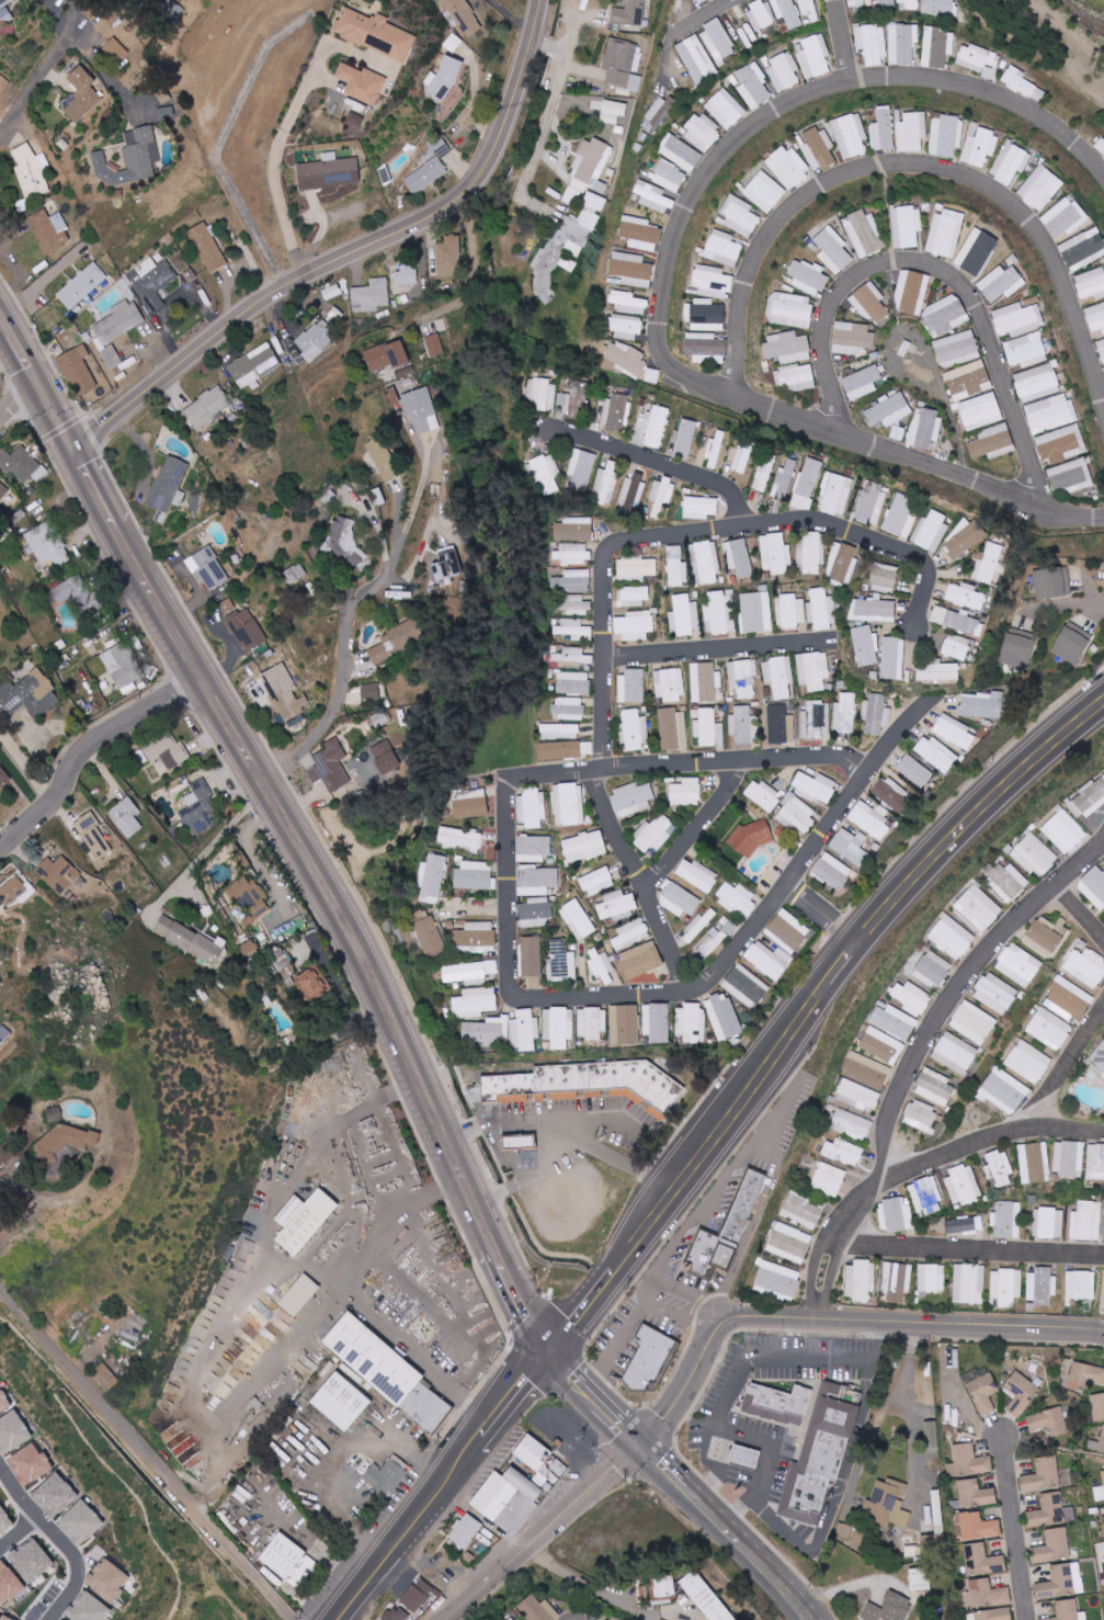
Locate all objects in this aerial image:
building: (704, 1)
building: (3, 2)
road: (76, 2)
building: (887, 2)
building: (856, 3)
building: (909, 4)
building: (938, 7)
building: (809, 9)
road: (511, 12)
road: (530, 12)
building: (787, 12)
building: (629, 13)
building: (760, 14)
road: (715, 16)
building: (375, 33)
building: (719, 42)
building: (872, 42)
building: (902, 42)
road: (845, 43)
building: (937, 46)
building: (115, 49)
building: (813, 55)
road: (95, 57)
building: (972, 57)
building: (697, 59)
road: (39, 67)
building: (783, 70)
building: (443, 79)
building: (362, 82)
building: (1022, 83)
building: (753, 84)
building: (82, 94)
road: (801, 103)
building: (726, 107)
building: (613, 111)
building: (658, 113)
road: (547, 120)
building: (884, 128)
building: (911, 131)
building: (702, 132)
building: (851, 135)
building: (946, 135)
road: (214, 145)
building: (980, 147)
building: (818, 148)
building: (681, 152)
building: (129, 158)
building: (1011, 162)
road: (917, 163)
building: (591, 165)
road: (275, 167)
building: (430, 167)
building: (788, 167)
building: (30, 171)
building: (329, 172)
building: (669, 174)
building: (1040, 188)
building: (765, 191)
building: (653, 196)
building: (740, 215)
building: (1063, 217)
building: (907, 226)
building: (52, 231)
building: (641, 233)
building: (864, 233)
building: (946, 233)
building: (208, 247)
building: (561, 248)
building: (573, 248)
building: (722, 248)
building: (1083, 248)
building: (833, 250)
building: (978, 252)
building: (449, 256)
road: (344, 262)
building: (631, 269)
road: (943, 272)
building: (407, 274)
road: (237, 275)
road: (475, 276)
building: (808, 276)
building: (152, 282)
building: (1001, 283)
building: (1091, 283)
road: (39, 285)
building: (82, 285)
building: (911, 292)
building: (371, 295)
building: (629, 303)
building: (870, 303)
building: (790, 309)
building: (707, 315)
building: (945, 315)
road: (212, 316)
building: (1095, 316)
building: (1017, 318)
building: (119, 321)
building: (626, 328)
building: (853, 338)
building: (316, 339)
road: (159, 340)
building: (434, 344)
building: (788, 347)
building: (1102, 347)
building: (706, 348)
building: (957, 349)
building: (1026, 350)
building: (386, 355)
building: (113, 359)
building: (625, 359)
building: (254, 365)
building: (78, 370)
building: (796, 377)
building: (968, 379)
building: (862, 382)
building: (542, 394)
road: (18, 399)
building: (562, 399)
building: (578, 401)
building: (206, 408)
building: (421, 410)
building: (889, 410)
building: (980, 411)
building: (617, 414)
building: (1051, 414)
building: (657, 427)
building: (924, 428)
building: (685, 439)
building: (993, 442)
building: (1061, 443)
building: (715, 451)
road: (891, 451)
road: (146, 452)
building: (743, 457)
building: (382, 458)
building: (22, 465)
road: (662, 465)
building: (581, 469)
building: (765, 472)
building: (545, 474)
building: (1071, 477)
building: (785, 479)
building: (807, 483)
building: (606, 484)
building: (168, 488)
building: (3, 490)
building: (631, 491)
building: (662, 494)
building: (836, 494)
building: (872, 505)
building: (699, 507)
building: (899, 513)
building: (574, 529)
building: (932, 530)
building: (340, 534)
road: (688, 535)
road: (873, 540)
building: (964, 540)
building: (48, 544)
building: (812, 552)
building: (571, 553)
building: (775, 554)
building: (738, 556)
building: (989, 562)
building: (842, 563)
building: (676, 566)
building: (446, 567)
building: (637, 567)
building: (208, 568)
building: (294, 573)
building: (884, 577)
building: (1068, 579)
building: (572, 581)
building: (1049, 582)
road: (1096, 589)
building: (82, 592)
building: (633, 597)
building: (573, 604)
building: (228, 605)
building: (821, 609)
building: (790, 611)
building: (756, 612)
building: (719, 614)
building: (684, 615)
building: (957, 621)
road: (349, 625)
building: (635, 625)
building: (247, 628)
building: (574, 630)
building: (394, 643)
building: (1072, 643)
building: (865, 645)
building: (956, 646)
road: (238, 650)
building: (1017, 650)
road: (611, 652)
road: (725, 654)
building: (572, 656)
building: (891, 658)
building: (123, 666)
building: (812, 670)
building: (937, 671)
building: (778, 676)
building: (742, 677)
building: (705, 681)
building: (573, 682)
building: (669, 684)
building: (631, 687)
building: (284, 691)
building: (371, 692)
building: (29, 694)
building: (981, 704)
building: (569, 709)
building: (844, 713)
building: (875, 714)
building: (816, 720)
building: (744, 725)
building: (673, 728)
building: (709, 728)
building: (636, 729)
building: (562, 732)
building: (955, 732)
road: (88, 744)
building: (558, 749)
building: (167, 751)
building: (935, 754)
building: (385, 757)
road: (705, 766)
road: (884, 766)
building: (330, 767)
building: (914, 771)
building: (3, 777)
building: (815, 786)
building: (685, 792)
building: (763, 795)
building: (892, 795)
building: (633, 798)
building: (1088, 798)
road: (282, 806)
building: (469, 807)
building: (198, 808)
building: (534, 808)
building: (796, 813)
building: (127, 817)
building: (870, 819)
road: (703, 829)
building: (1063, 831)
building: (656, 835)
building: (93, 836)
building: (752, 838)
building: (459, 839)
building: (850, 846)
building: (584, 847)
building: (533, 848)
road: (208, 850)
building: (1034, 854)
building: (832, 871)
building: (57, 874)
building: (697, 874)
building: (475, 875)
building: (433, 879)
building: (536, 880)
road: (511, 881)
building: (597, 881)
road: (648, 881)
building: (1006, 881)
building: (1094, 886)
building: (12, 891)
building: (249, 897)
building: (679, 899)
building: (736, 899)
building: (616, 905)
road: (1082, 907)
building: (978, 908)
building: (535, 913)
road: (827, 914)
road: (765, 915)
building: (578, 919)
building: (786, 931)
building: (631, 934)
building: (431, 936)
building: (476, 937)
building: (952, 937)
building: (1044, 937)
building: (191, 939)
building: (715, 940)
building: (769, 959)
building: (532, 960)
building: (560, 961)
building: (641, 962)
road: (846, 964)
building: (1018, 964)
building: (602, 966)
building: (1085, 966)
building: (933, 970)
building: (470, 972)
building: (309, 983)
building: (746, 985)
road: (964, 992)
building: (995, 993)
road: (602, 997)
building: (911, 997)
building: (1069, 997)
building: (476, 1001)
building: (724, 1017)
building: (894, 1020)
building: (657, 1022)
building: (974, 1022)
building: (546, 1023)
building: (591, 1023)
building: (625, 1024)
building: (561, 1028)
building: (1049, 1029)
building: (486, 1031)
building: (525, 1031)
building: (3, 1035)
building: (881, 1045)
building: (956, 1053)
building: (1029, 1061)
building: (1099, 1061)
building: (866, 1070)
road: (1069, 1078)
building: (592, 1081)
building: (934, 1086)
building: (1005, 1090)
building: (619, 1092)
building: (858, 1096)
road: (756, 1113)
building: (921, 1115)
road: (547, 1120)
road: (569, 1120)
road: (341, 1123)
building: (851, 1124)
building: (522, 1140)
gas station: (522, 1140)
building: (64, 1141)
building: (843, 1152)
parking lot: (571, 1154)
building: (1069, 1158)
building: (1095, 1162)
building: (1035, 1163)
road: (915, 1166)
building: (999, 1168)
building: (829, 1178)
road: (7, 1181)
building: (963, 1185)
building: (927, 1196)
building: (804, 1209)
building: (896, 1215)
road: (756, 1217)
building: (303, 1220)
building: (1008, 1220)
building: (1086, 1221)
building: (964, 1225)
road: (399, 1226)
road: (690, 1226)
building: (726, 1230)
parking lot: (694, 1231)
building: (789, 1243)
road: (280, 1249)
road: (969, 1255)
building: (932, 1278)
building: (777, 1280)
building: (861, 1280)
road: (674, 1281)
building: (897, 1281)
building: (969, 1283)
building: (1081, 1284)
building: (1006, 1287)
building: (1042, 1287)
building: (299, 1295)
building: (1103, 1299)
road: (590, 1304)
road: (679, 1310)
road: (320, 1317)
road: (912, 1322)
road: (542, 1333)
road: (216, 1335)
road: (786, 1355)
building: (651, 1357)
road: (542, 1364)
building: (391, 1370)
building: (1085, 1375)
building: (105, 1377)
road: (688, 1378)
building: (983, 1394)
building: (1021, 1394)
road: (599, 1397)
building: (3, 1402)
building: (340, 1402)
building: (1097, 1407)
road: (914, 1408)
building: (1049, 1423)
road: (726, 1428)
building: (12, 1432)
parking lot: (771, 1442)
building: (807, 1443)
building: (1102, 1443)
road: (581, 1445)
road: (333, 1447)
building: (534, 1450)
road: (147, 1453)
building: (744, 1457)
road: (626, 1459)
parking lot: (494, 1461)
building: (970, 1461)
gas station: (742, 1462)
building: (29, 1465)
building: (549, 1473)
building: (387, 1474)
building: (1043, 1475)
building: (1103, 1475)
building: (976, 1494)
building: (1099, 1494)
building: (54, 1496)
road: (431, 1496)
building: (505, 1503)
building: (888, 1503)
road: (765, 1504)
building: (1051, 1511)
road: (483, 1515)
building: (4, 1520)
building: (80, 1523)
building: (978, 1527)
road: (1015, 1527)
building: (466, 1531)
road: (728, 1531)
road: (19, 1532)
road: (60, 1540)
road: (319, 1544)
road: (525, 1547)
building: (1054, 1547)
building: (985, 1560)
building: (30, 1561)
building: (288, 1561)
building: (920, 1579)
building: (106, 1581)
building: (1062, 1582)
road: (592, 1583)
building: (8, 1584)
building: (665, 1587)
building: (987, 1594)
building: (417, 1595)
building: (706, 1597)
building: (87, 1608)
building: (538, 1609)
building: (888, 1609)
building: (1068, 1610)
building: (396, 1615)
building: (994, 1615)
building: (2, 1618)
building: (59, 1619)
building: (511, 1619)

